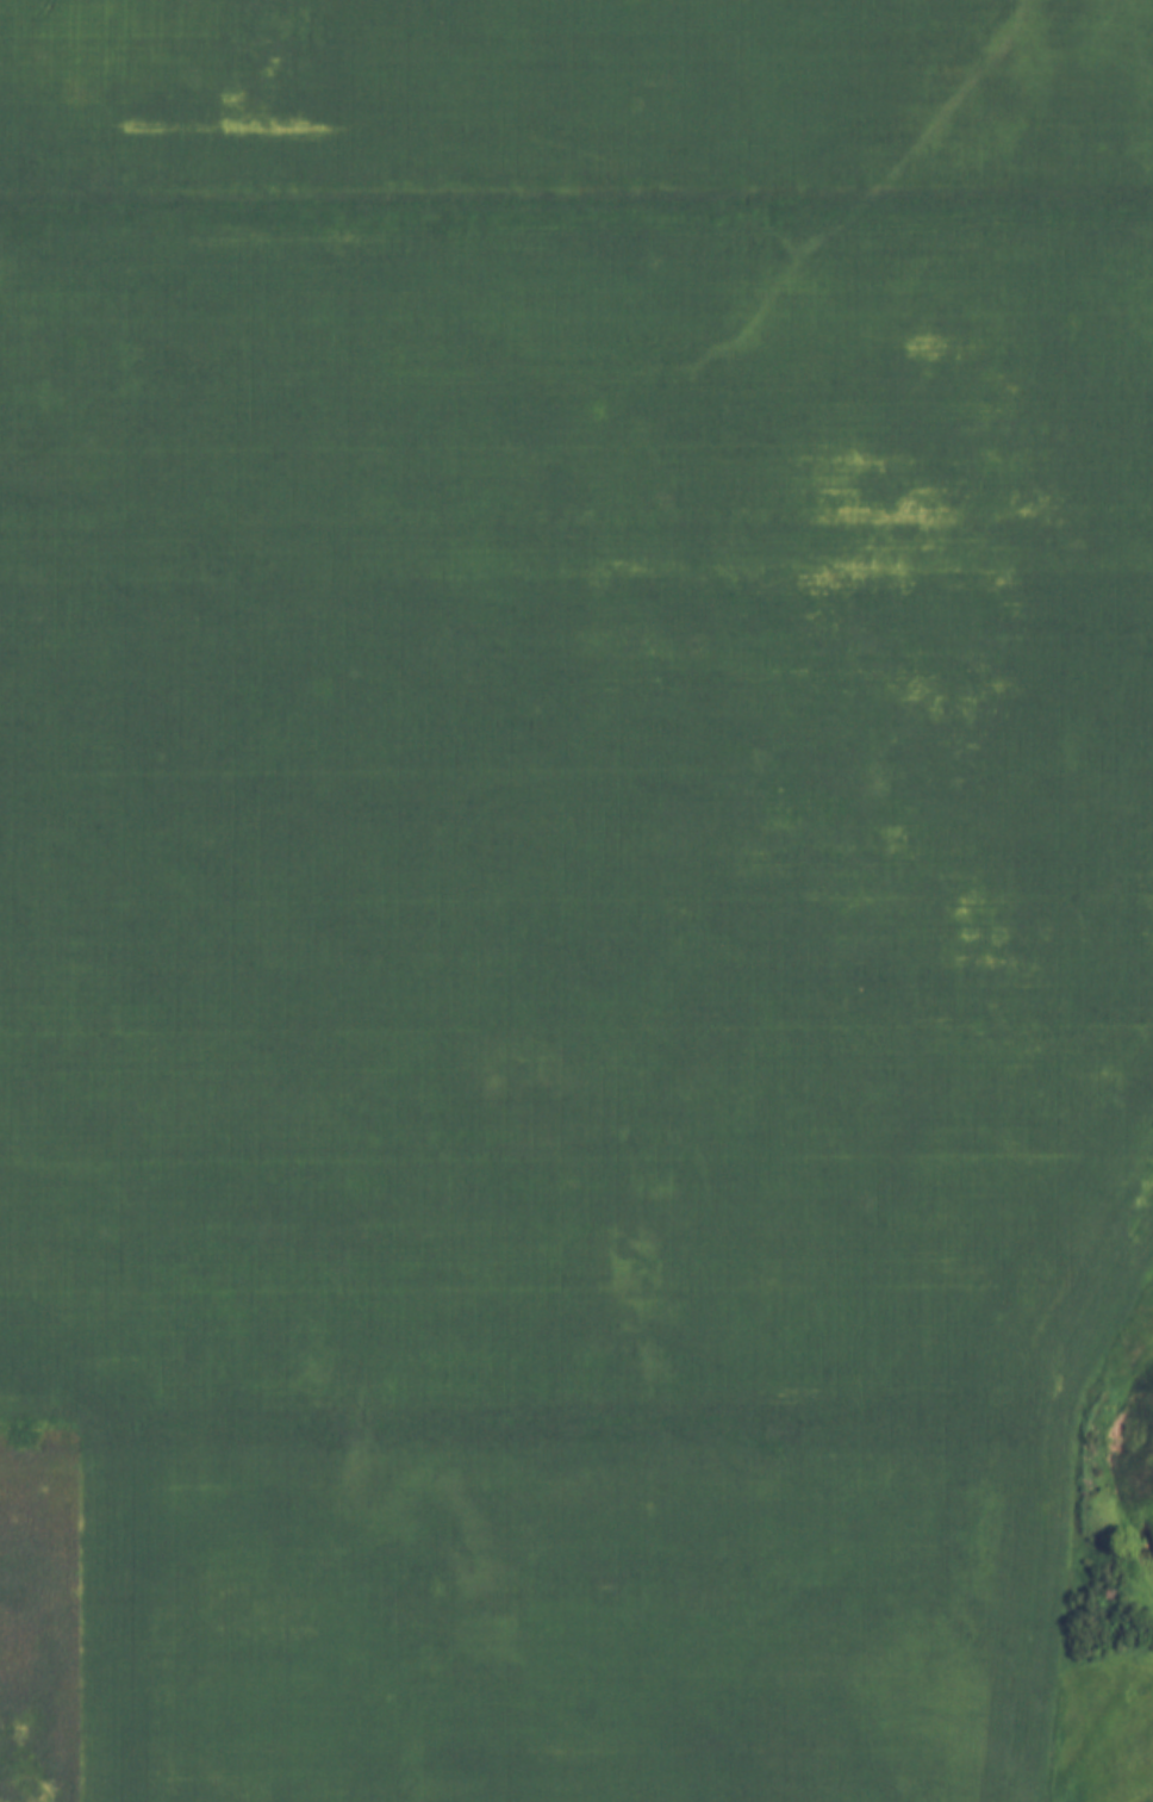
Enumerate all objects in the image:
road: (1030, 1604)

